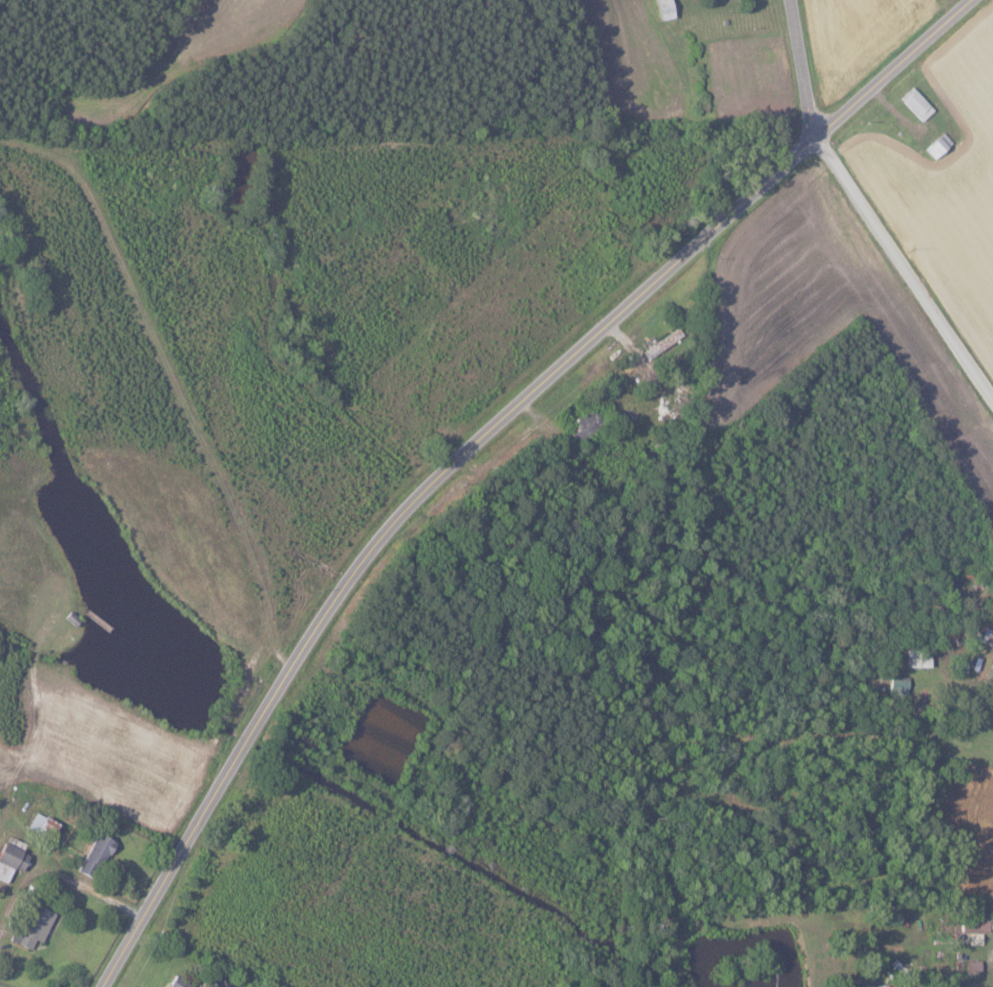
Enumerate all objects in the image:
building: (663, 9)
road: (809, 68)
building: (914, 103)
building: (936, 145)
road: (907, 262)
building: (584, 425)
road: (476, 441)
building: (915, 659)
building: (896, 688)
building: (40, 826)
building: (94, 856)
building: (9, 860)
road: (60, 875)
building: (973, 922)
building: (32, 926)
building: (178, 983)
building: (232, 986)

